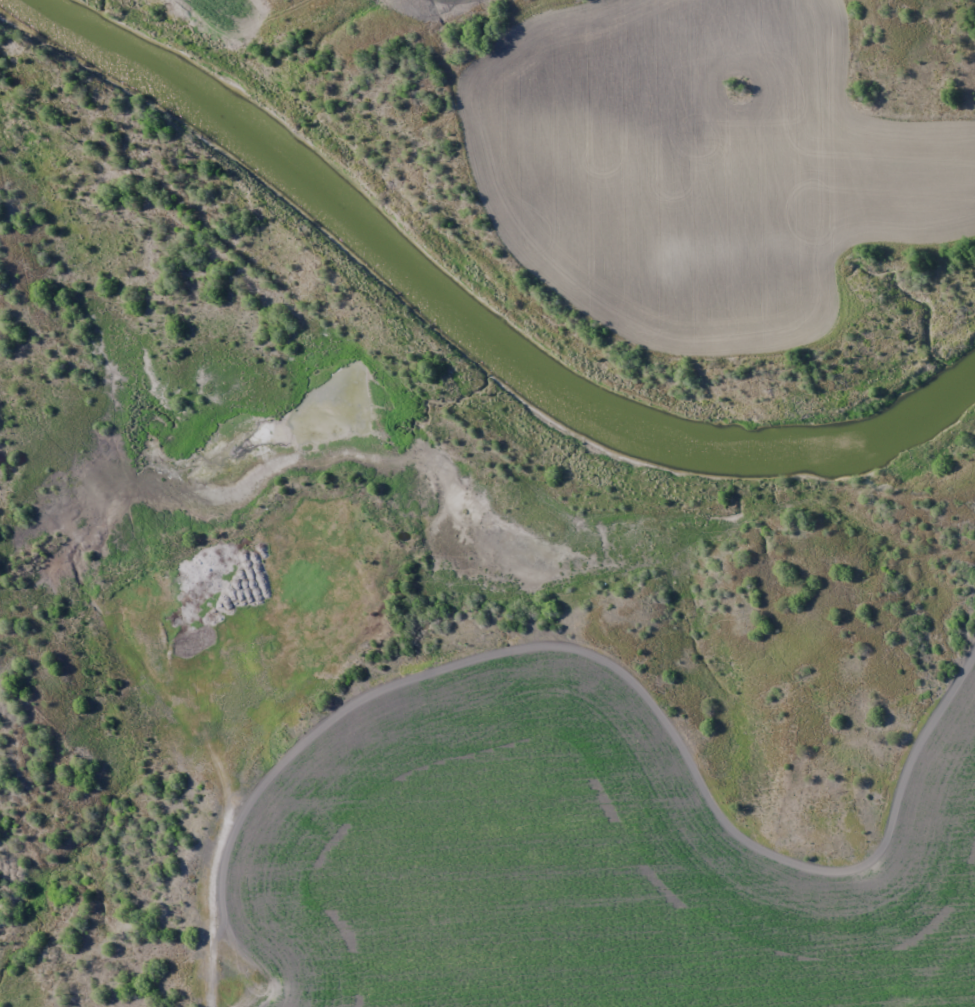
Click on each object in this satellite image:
road: (61, 989)

